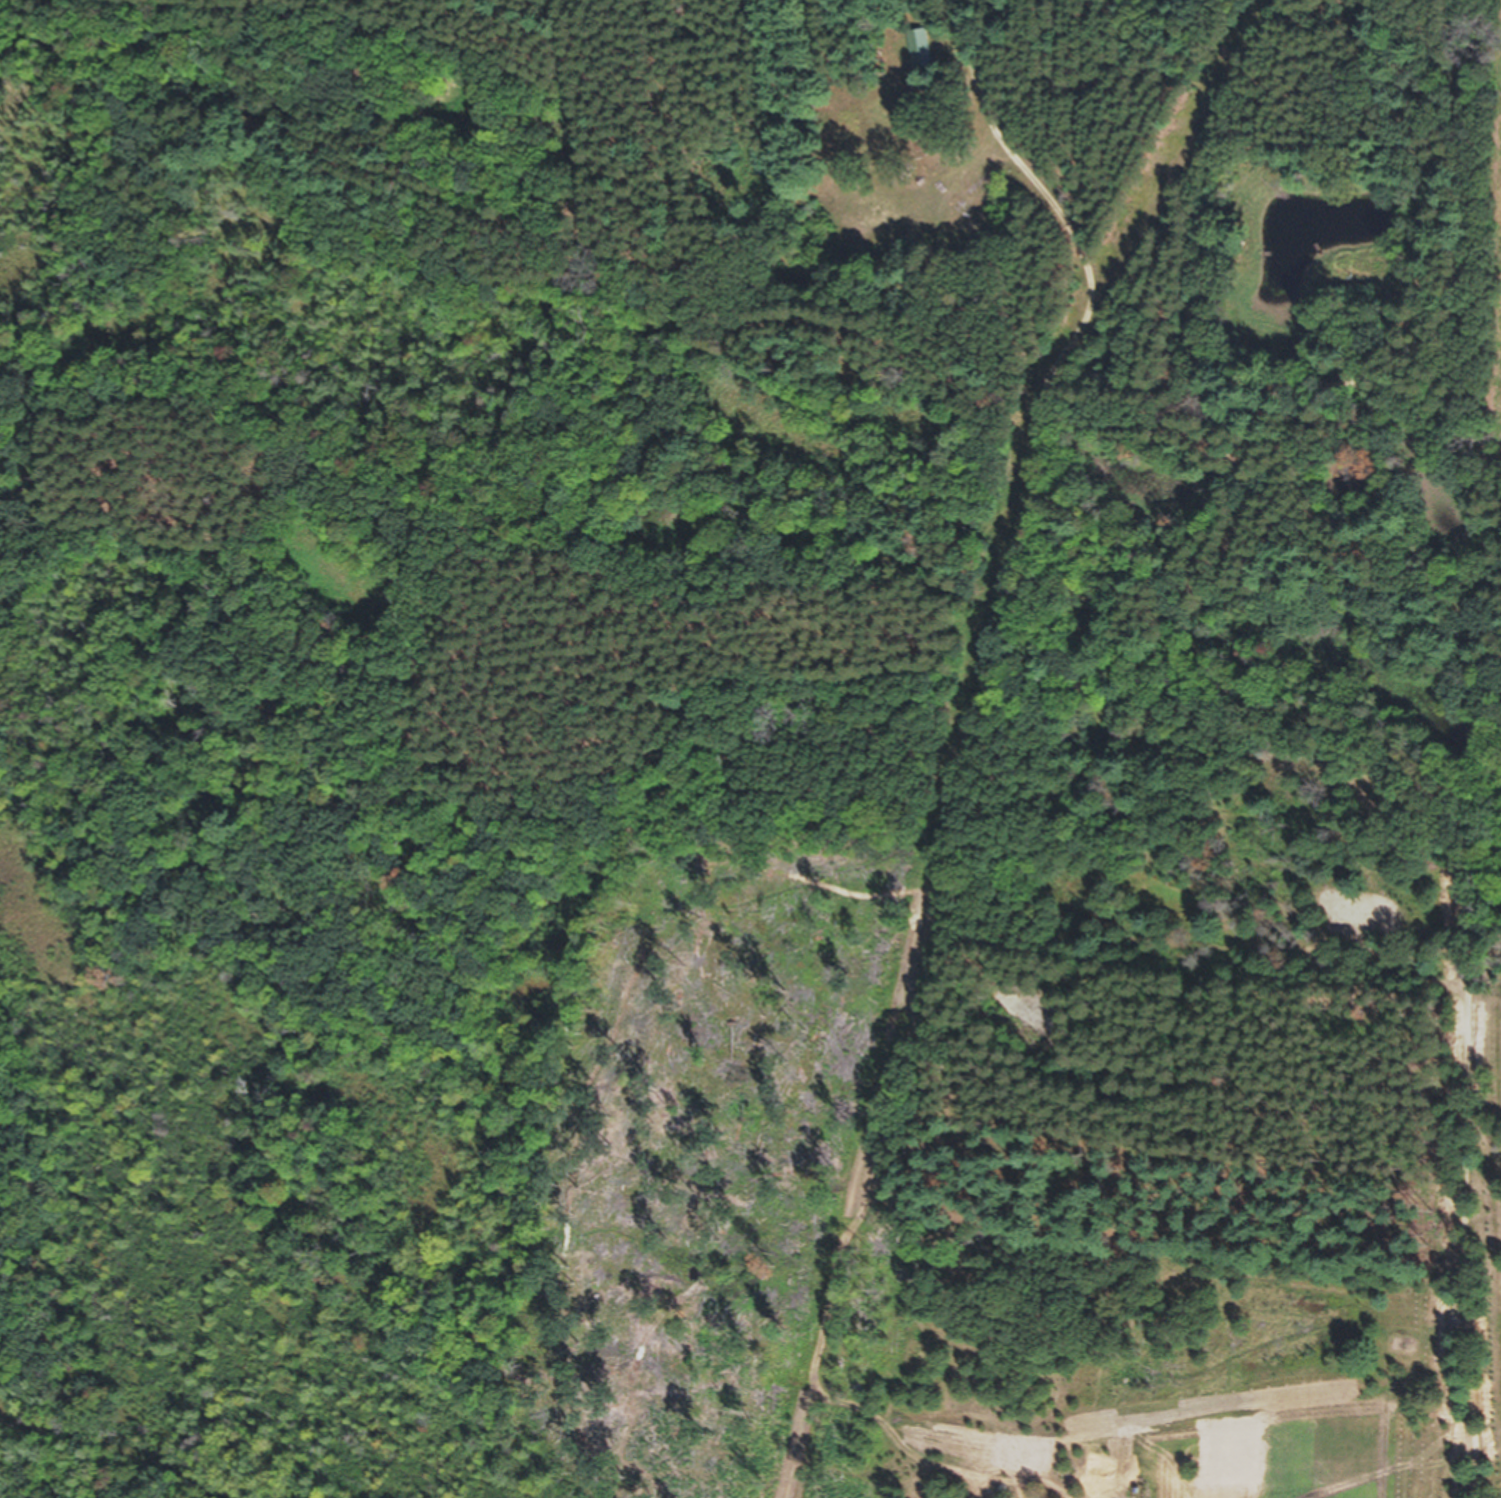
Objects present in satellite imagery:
building: (915, 56)
road: (1265, 715)

